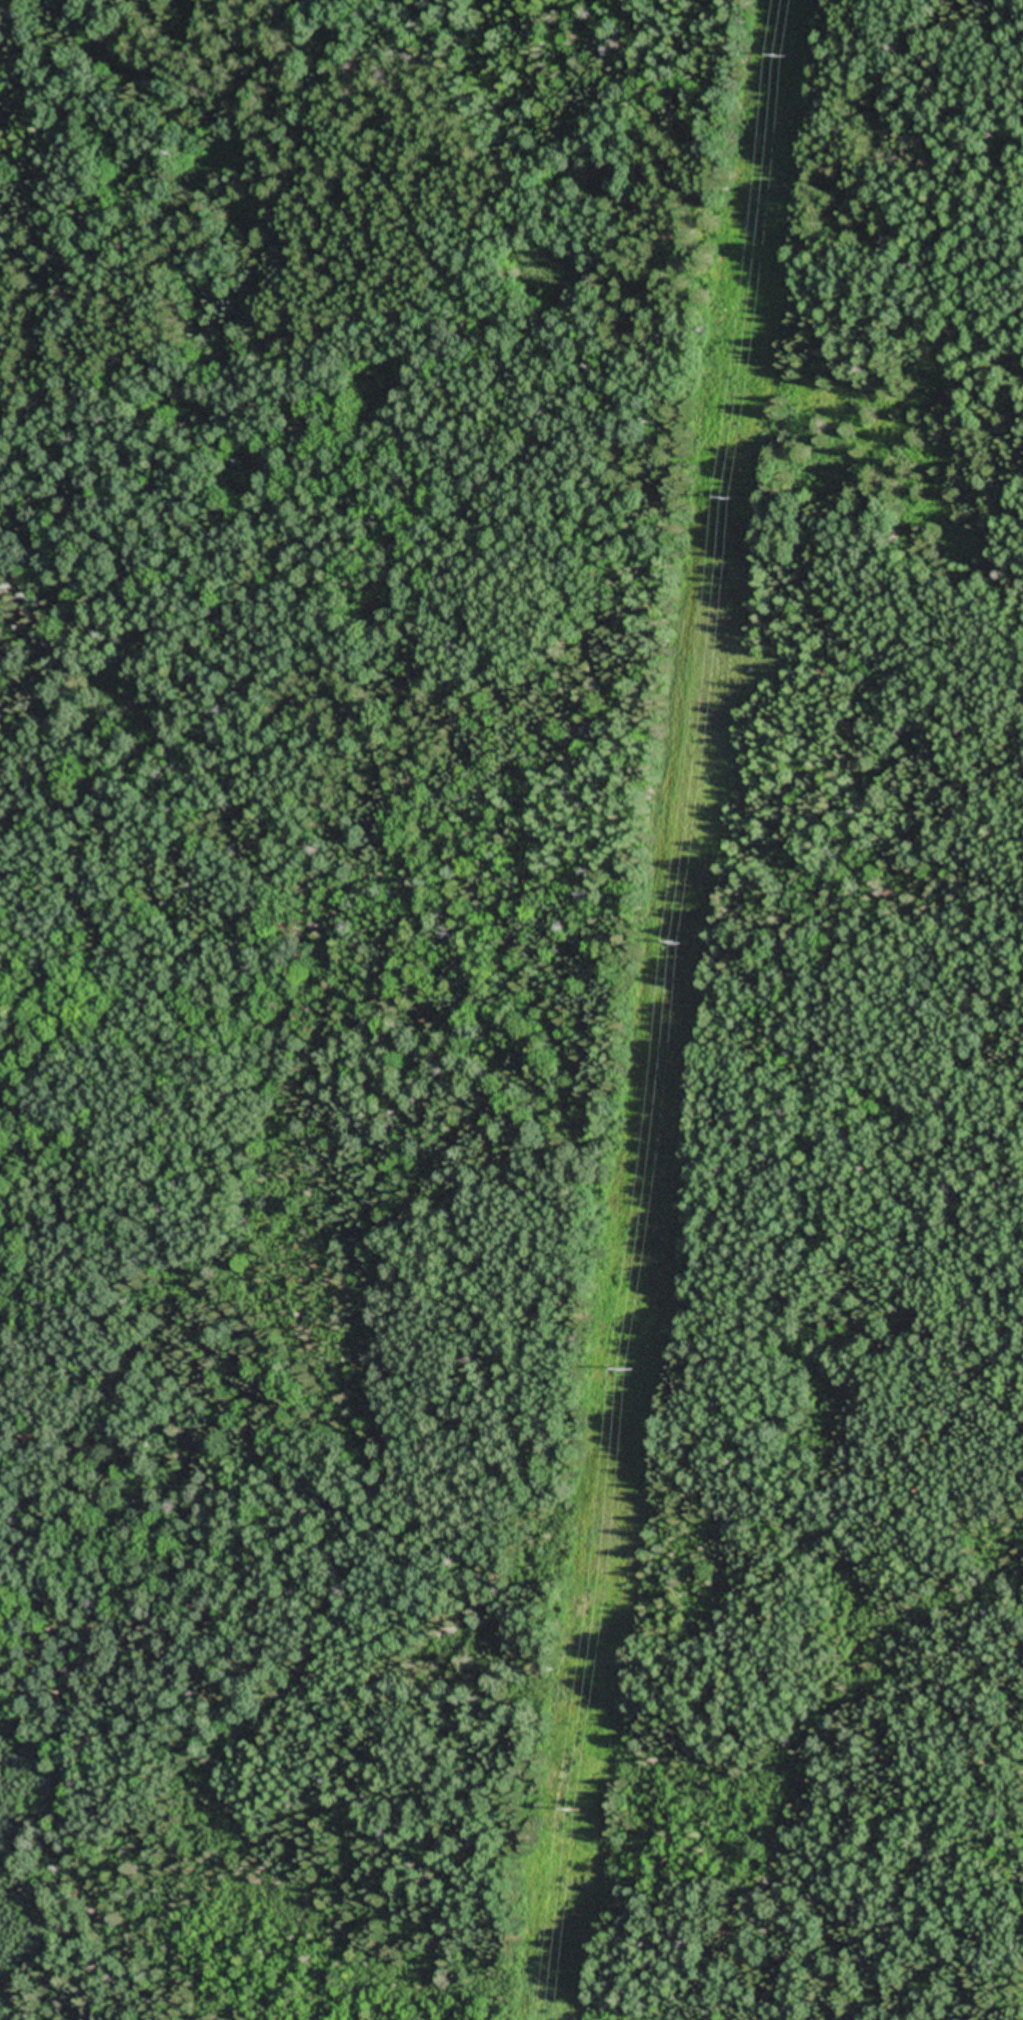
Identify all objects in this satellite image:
power tower: (781, 55)
power tower: (729, 498)
power tower: (679, 945)
power tower: (627, 1367)
power tower: (576, 1809)

